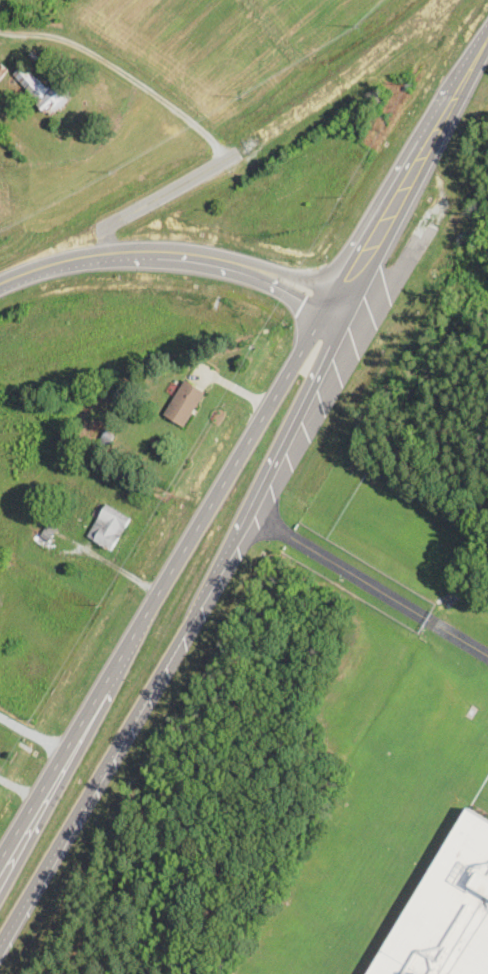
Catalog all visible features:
road: (480, 48)
building: (42, 91)
road: (396, 177)
road: (412, 185)
road: (180, 253)
building: (184, 405)
road: (279, 464)
building: (108, 528)
building: (46, 537)
road: (164, 577)
road: (370, 587)
road: (160, 678)
road: (28, 737)
road: (61, 844)
building: (425, 965)

